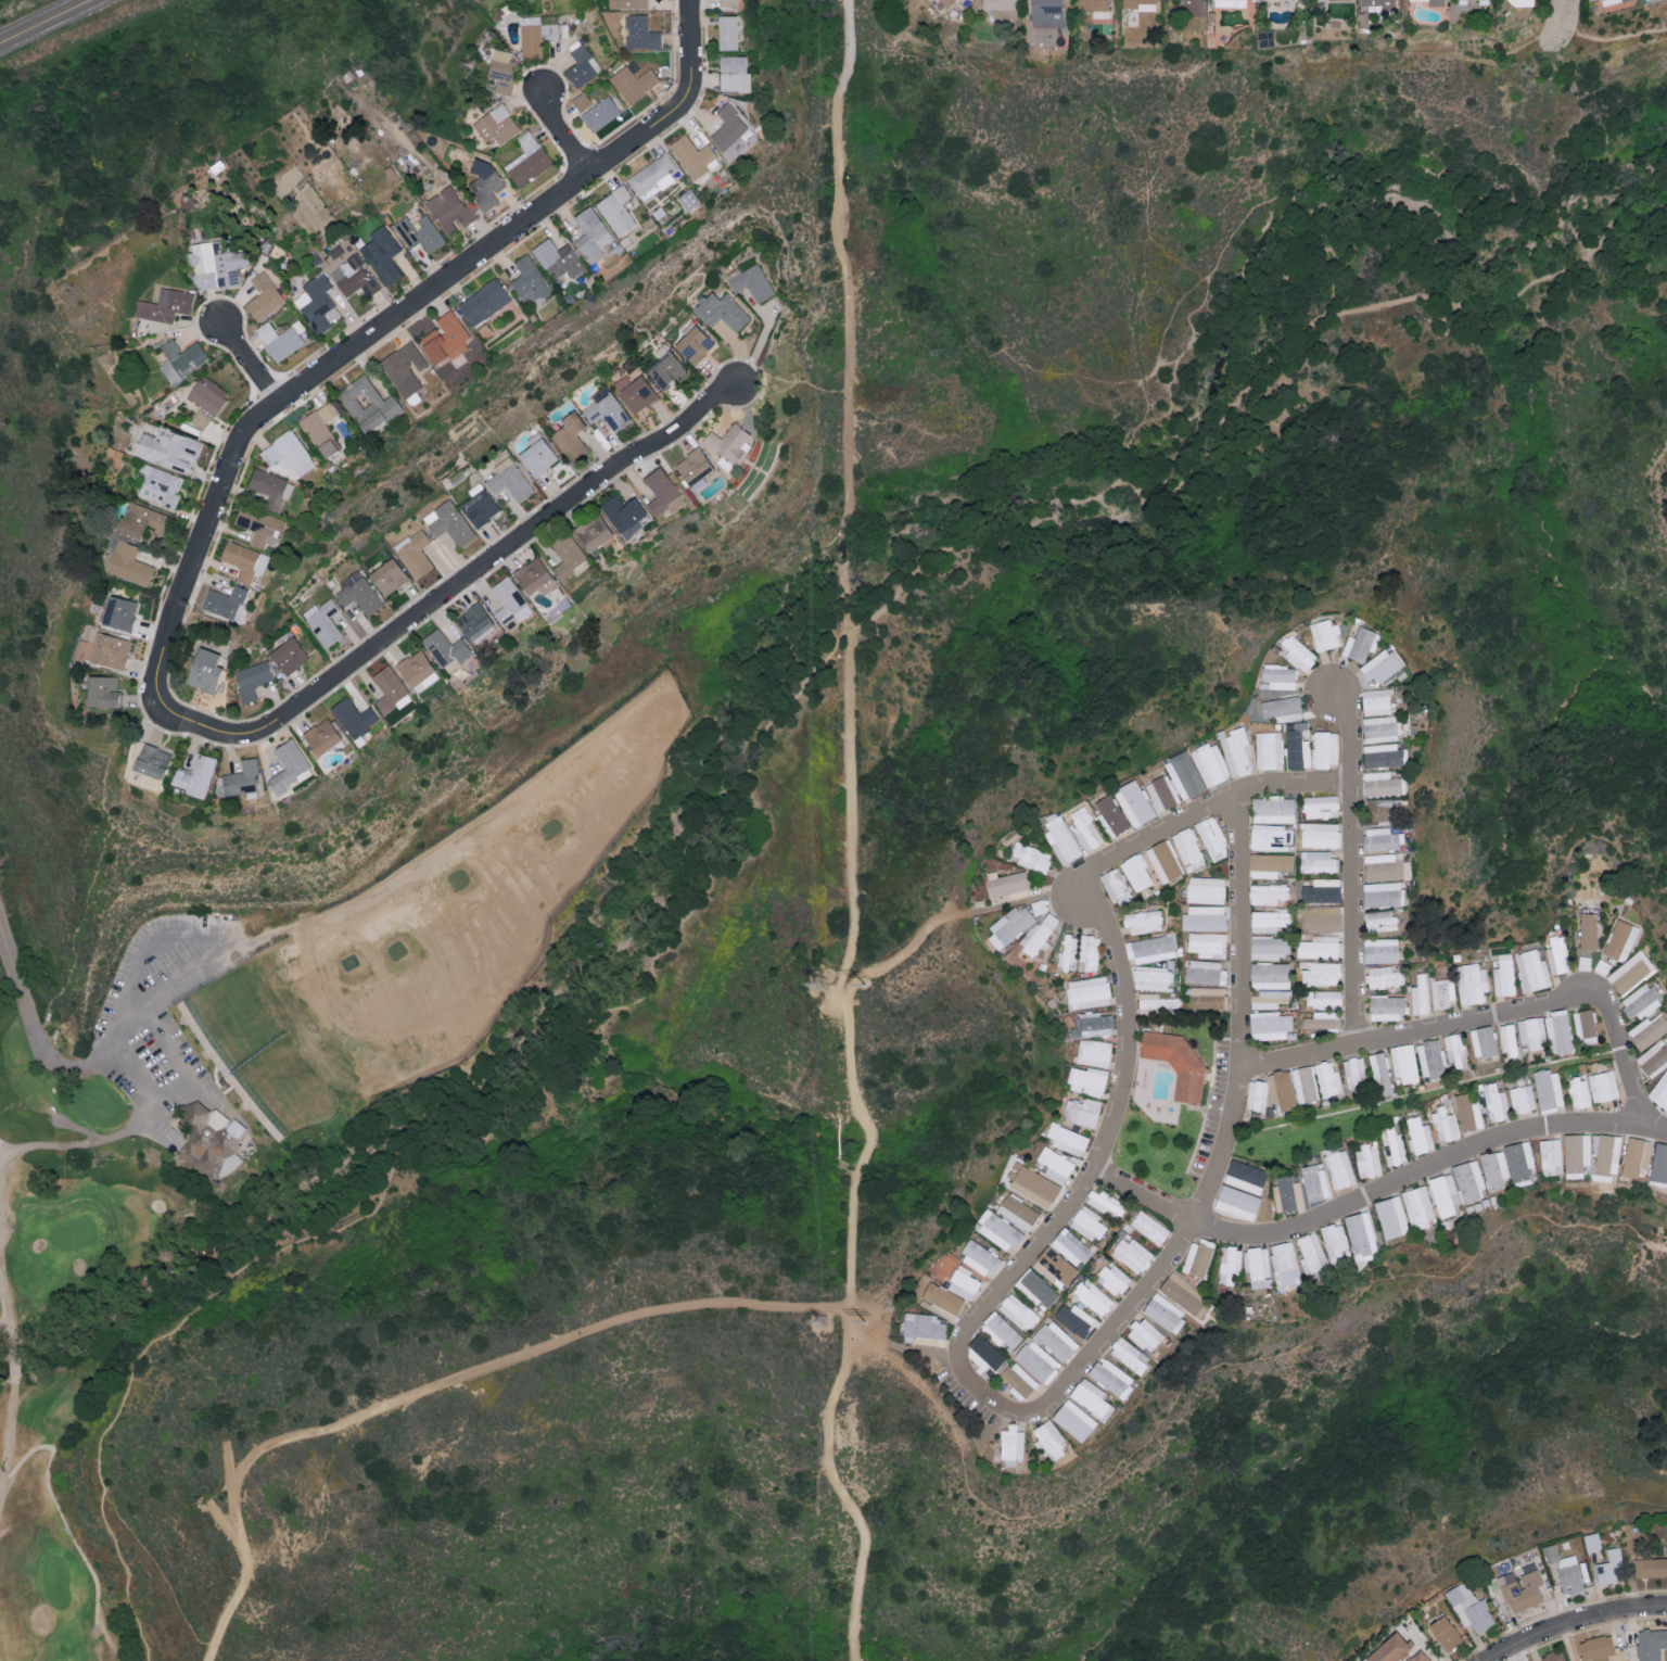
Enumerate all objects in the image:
building: (1376, 1)
building: (1609, 1)
building: (727, 2)
building: (947, 2)
building: (1230, 2)
building: (1435, 2)
building: (1522, 2)
building: (631, 3)
building: (1138, 3)
building: (1046, 5)
building: (1095, 7)
building: (1193, 7)
building: (1001, 8)
road: (1569, 13)
road: (51, 25)
building: (728, 31)
building: (639, 33)
building: (536, 37)
road: (1614, 39)
road: (693, 47)
building: (581, 64)
building: (501, 69)
building: (735, 73)
building: (633, 83)
building: (581, 100)
building: (599, 113)
building: (496, 124)
building: (728, 127)
road: (558, 132)
building: (693, 155)
building: (527, 160)
building: (653, 174)
building: (485, 187)
building: (688, 199)
building: (448, 208)
building: (616, 208)
building: (419, 231)
building: (591, 233)
road: (1409, 238)
building: (382, 254)
building: (558, 257)
building: (215, 265)
building: (353, 276)
building: (529, 280)
building: (750, 281)
building: (264, 296)
building: (483, 301)
building: (316, 303)
building: (165, 304)
building: (720, 309)
building: (445, 338)
building: (280, 340)
building: (693, 343)
building: (180, 358)
road: (252, 366)
building: (405, 367)
building: (665, 369)
road: (326, 370)
building: (634, 392)
road: (1246, 393)
building: (206, 400)
building: (368, 404)
building: (607, 410)
building: (321, 428)
building: (570, 435)
building: (727, 443)
building: (168, 448)
building: (537, 454)
building: (289, 456)
building: (693, 467)
building: (510, 479)
building: (160, 485)
building: (271, 487)
building: (662, 492)
building: (479, 505)
building: (621, 511)
building: (140, 520)
building: (448, 522)
building: (259, 525)
building: (591, 532)
building: (415, 553)
building: (568, 557)
building: (244, 560)
building: (129, 563)
road: (483, 571)
building: (387, 576)
building: (533, 576)
building: (358, 593)
building: (509, 600)
building: (226, 601)
building: (118, 612)
building: (322, 620)
building: (474, 623)
building: (1324, 634)
building: (1360, 644)
building: (84, 647)
building: (445, 649)
building: (109, 650)
building: (1298, 651)
building: (289, 655)
building: (1379, 667)
building: (204, 670)
building: (417, 671)
building: (1277, 676)
building: (251, 679)
building: (390, 690)
building: (103, 692)
building: (1375, 701)
building: (1282, 708)
building: (353, 717)
building: (1379, 728)
building: (321, 736)
building: (1297, 746)
building: (1325, 748)
building: (1236, 750)
building: (1269, 750)
building: (1383, 756)
building: (151, 761)
building: (1209, 763)
building: (289, 764)
building: (1184, 775)
building: (194, 776)
building: (241, 778)
building: (1380, 783)
building: (1161, 793)
building: (1134, 802)
building: (1321, 806)
building: (1376, 807)
building: (1274, 809)
building: (1110, 816)
building: (1085, 828)
building: (1320, 834)
road: (847, 835)
building: (1270, 837)
building: (1212, 838)
building: (1060, 839)
building: (1380, 839)
building: (1188, 848)
building: (1030, 857)
building: (1165, 861)
building: (1319, 861)
building: (1269, 864)
road: (1352, 866)
building: (1383, 866)
building: (1137, 872)
building: (1007, 883)
building: (1116, 885)
building: (1206, 889)
building: (1322, 890)
building: (1268, 893)
building: (1383, 893)
park: (819, 897)
road: (1027, 901)
building: (1039, 906)
building: (1202, 915)
building: (1322, 917)
building: (1270, 920)
building: (1144, 921)
building: (1379, 921)
building: (1008, 925)
building: (1588, 930)
building: (1040, 933)
road: (196, 934)
building: (1620, 940)
building: (1207, 943)
building: (1319, 947)
building: (1269, 948)
road: (912, 949)
building: (1150, 949)
building: (1380, 950)
building: (1090, 952)
building: (1068, 953)
building: (1557, 954)
building: (1583, 962)
building: (1532, 971)
building: (1205, 972)
building: (1631, 972)
building: (1321, 973)
building: (1270, 975)
building: (1504, 975)
building: (1384, 976)
building: (1153, 977)
building: (1472, 982)
power tower: (819, 985)
power tower: (865, 985)
building: (1089, 991)
building: (1442, 993)
building: (1421, 994)
building: (1207, 998)
building: (1269, 999)
building: (1324, 999)
building: (1157, 1001)
building: (1641, 1001)
building: (1386, 1007)
road: (1493, 1012)
parking lot: (163, 1016)
building: (1323, 1019)
building: (1093, 1024)
building: (1270, 1025)
building: (1585, 1025)
building: (1647, 1030)
building: (1534, 1031)
building: (1558, 1031)
building: (1509, 1039)
building: (1484, 1041)
building: (1456, 1051)
building: (1094, 1052)
building: (1653, 1057)
road: (103, 1058)
building: (1430, 1058)
building: (1176, 1060)
building: (1404, 1063)
building: (1353, 1073)
building: (1380, 1074)
building: (1327, 1079)
building: (1089, 1080)
building: (1303, 1083)
building: (1603, 1086)
road: (181, 1087)
building: (1281, 1089)
building: (1549, 1089)
building: (1659, 1091)
building: (1579, 1092)
park: (268, 1095)
road: (501, 1095)
building: (1257, 1098)
building: (1523, 1098)
building: (1494, 1101)
park: (97, 1103)
building: (1083, 1111)
road: (66, 1125)
building: (1445, 1125)
building: (1420, 1136)
building: (1067, 1138)
building: (214, 1140)
building: (1394, 1145)
building: (1576, 1154)
building: (1606, 1154)
building: (1550, 1155)
building: (1636, 1156)
building: (1369, 1161)
building: (1518, 1162)
building: (1055, 1164)
building: (1659, 1164)
building: (1340, 1168)
building: (1493, 1169)
building: (1245, 1176)
road: (189, 1178)
building: (1468, 1181)
building: (1315, 1182)
building: (1034, 1187)
building: (1288, 1193)
road: (1377, 1194)
building: (1443, 1194)
building: (1235, 1200)
building: (1107, 1203)
building: (1417, 1206)
building: (1018, 1212)
building: (1391, 1217)
building: (1089, 1222)
building: (1149, 1227)
building: (998, 1230)
park: (74, 1233)
building: (1361, 1235)
road: (5, 1238)
building: (1335, 1241)
road: (240, 1245)
building: (1071, 1246)
building: (1311, 1253)
building: (1132, 1254)
road: (250, 1257)
building: (1198, 1257)
building: (981, 1258)
building: (1284, 1261)
building: (1230, 1266)
building: (1258, 1266)
building: (1054, 1267)
building: (1114, 1278)
building: (963, 1282)
building: (1036, 1289)
building: (1180, 1289)
building: (1093, 1296)
building: (942, 1298)
building: (1019, 1311)
building: (1165, 1311)
building: (1074, 1318)
power tower: (866, 1323)
power tower: (822, 1326)
building: (922, 1327)
building: (1003, 1331)
road: (968, 1334)
building: (1145, 1334)
building: (1057, 1340)
building: (984, 1353)
building: (1130, 1355)
building: (1038, 1360)
building: (1111, 1378)
building: (1019, 1380)
road: (440, 1384)
building: (1091, 1398)
building: (1073, 1420)
building: (1048, 1441)
building: (1010, 1446)
road: (68, 1524)
building: (1592, 1540)
building: (1609, 1565)
building: (1651, 1567)
building: (1565, 1568)
road: (158, 1573)
road: (128, 1576)
park: (58, 1580)
building: (1522, 1589)
building: (1469, 1607)
road: (1579, 1624)
building: (1445, 1632)
building: (1651, 1643)
building: (1599, 1647)
building: (1390, 1649)
building: (1418, 1656)
building: (1554, 1656)

